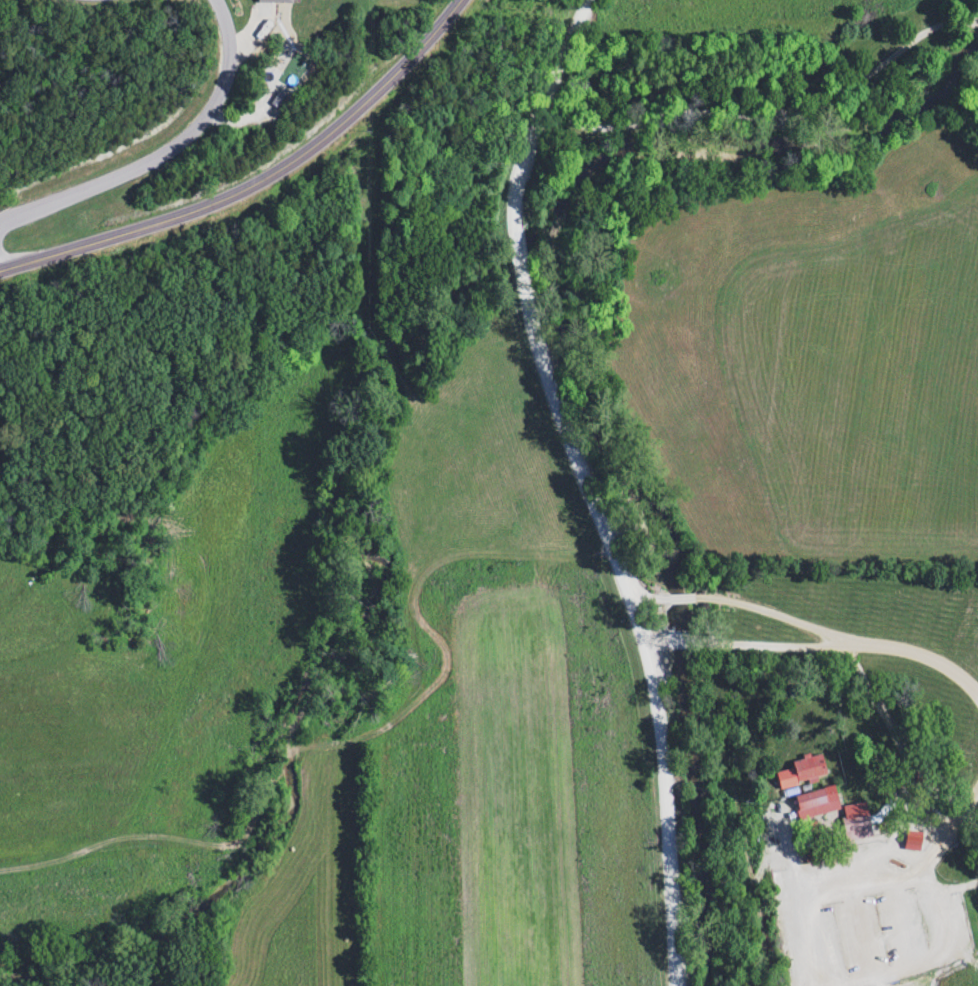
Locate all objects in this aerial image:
building: (273, 2)
road: (771, 115)
road: (164, 153)
road: (256, 178)
road: (594, 485)
road: (812, 628)
road: (763, 646)
building: (801, 773)
building: (816, 804)
building: (856, 831)
road: (867, 892)
road: (803, 945)

